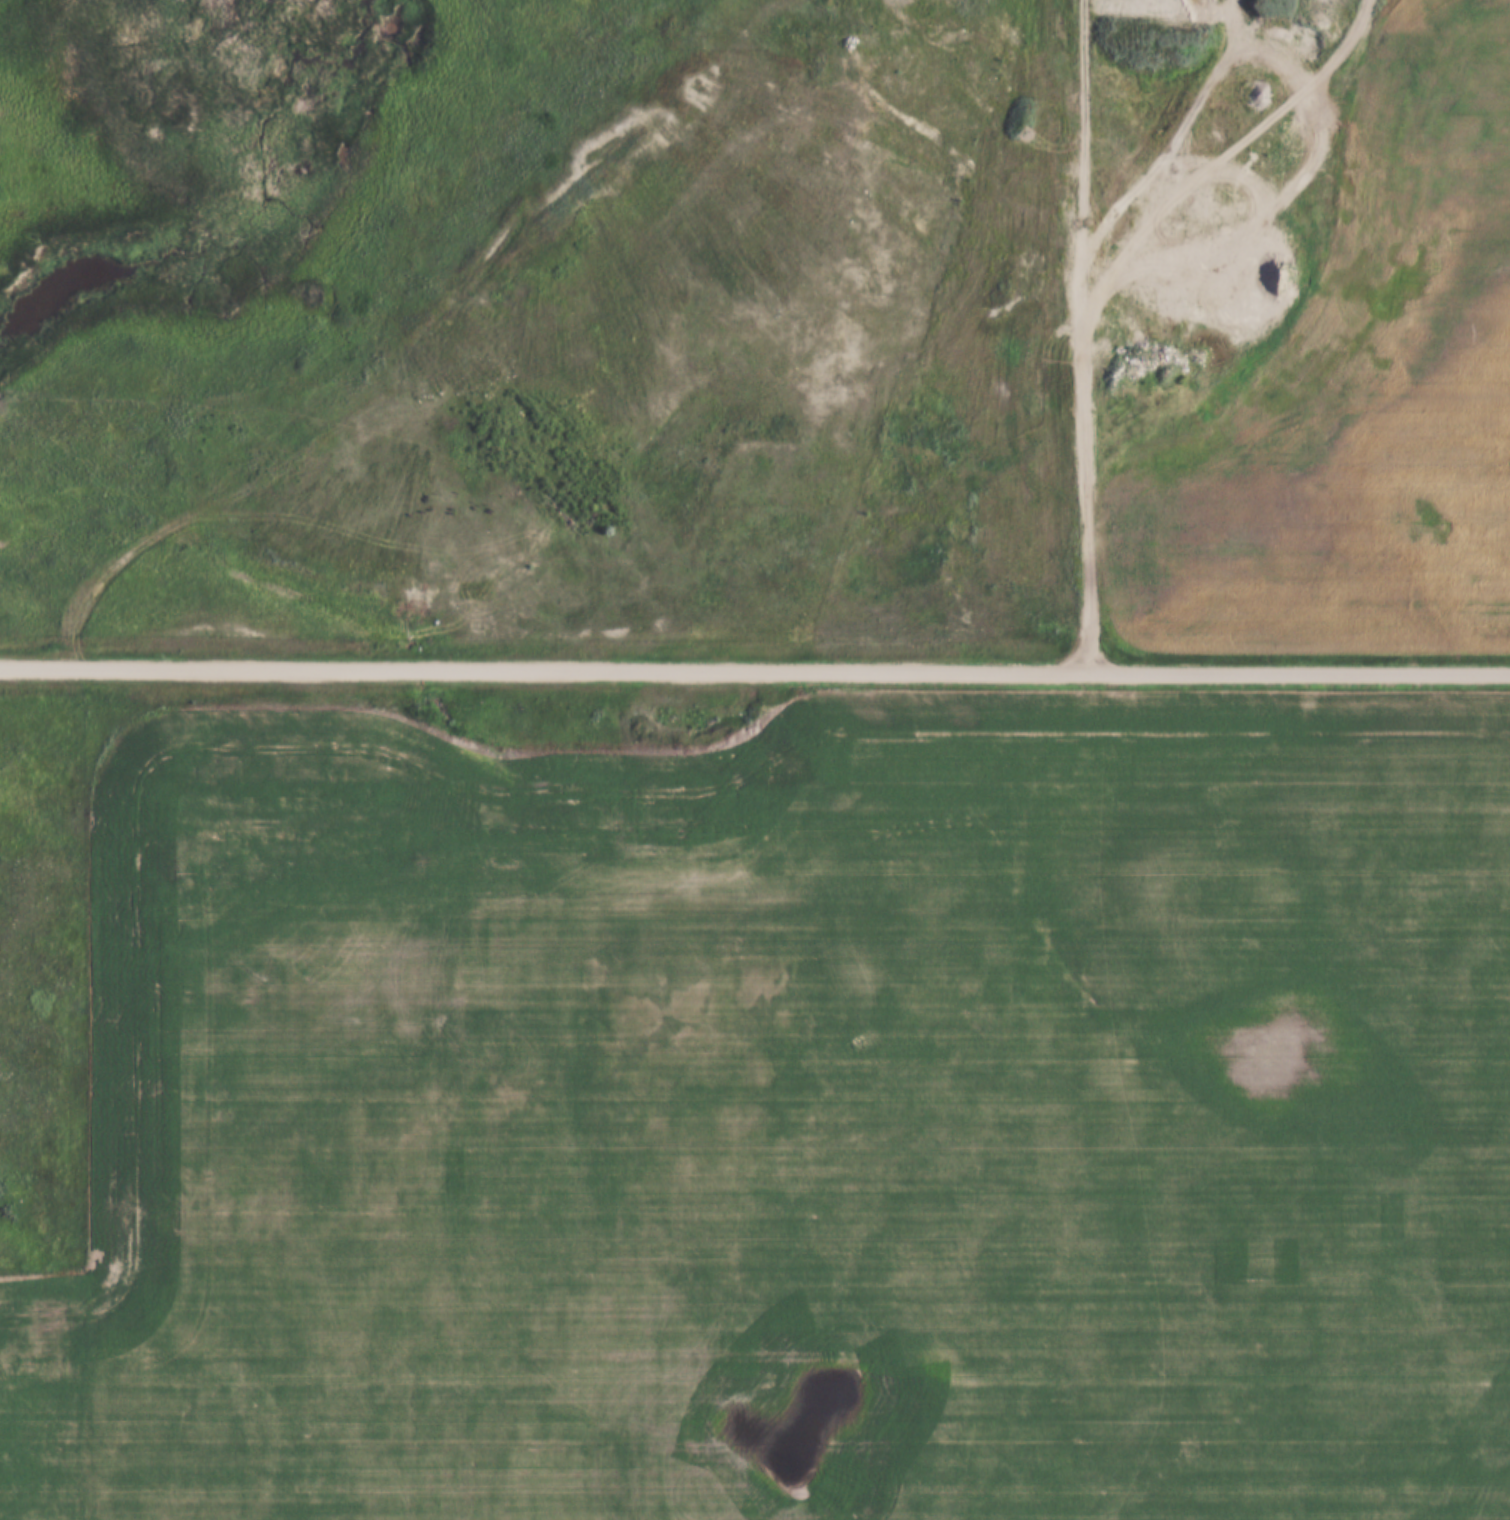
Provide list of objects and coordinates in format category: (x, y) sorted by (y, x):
road: (267, 480)
road: (755, 665)

